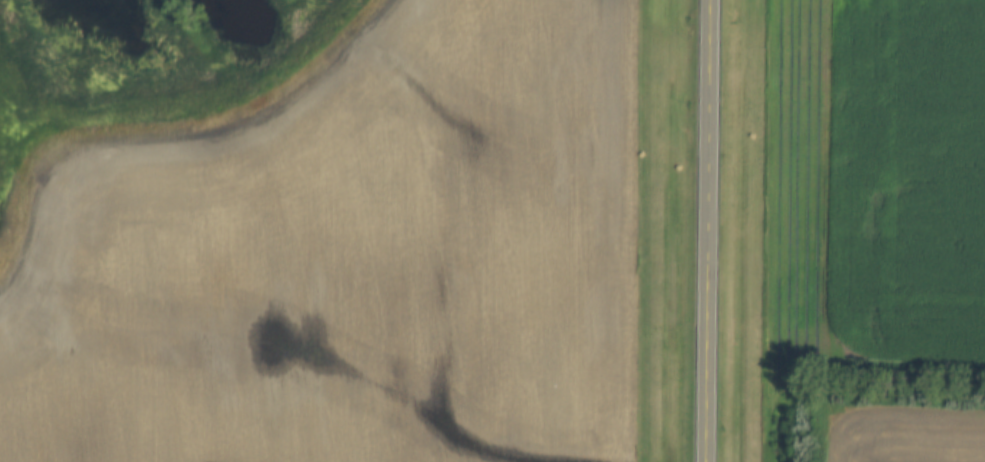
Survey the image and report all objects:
road: (693, 51)
road: (691, 282)

